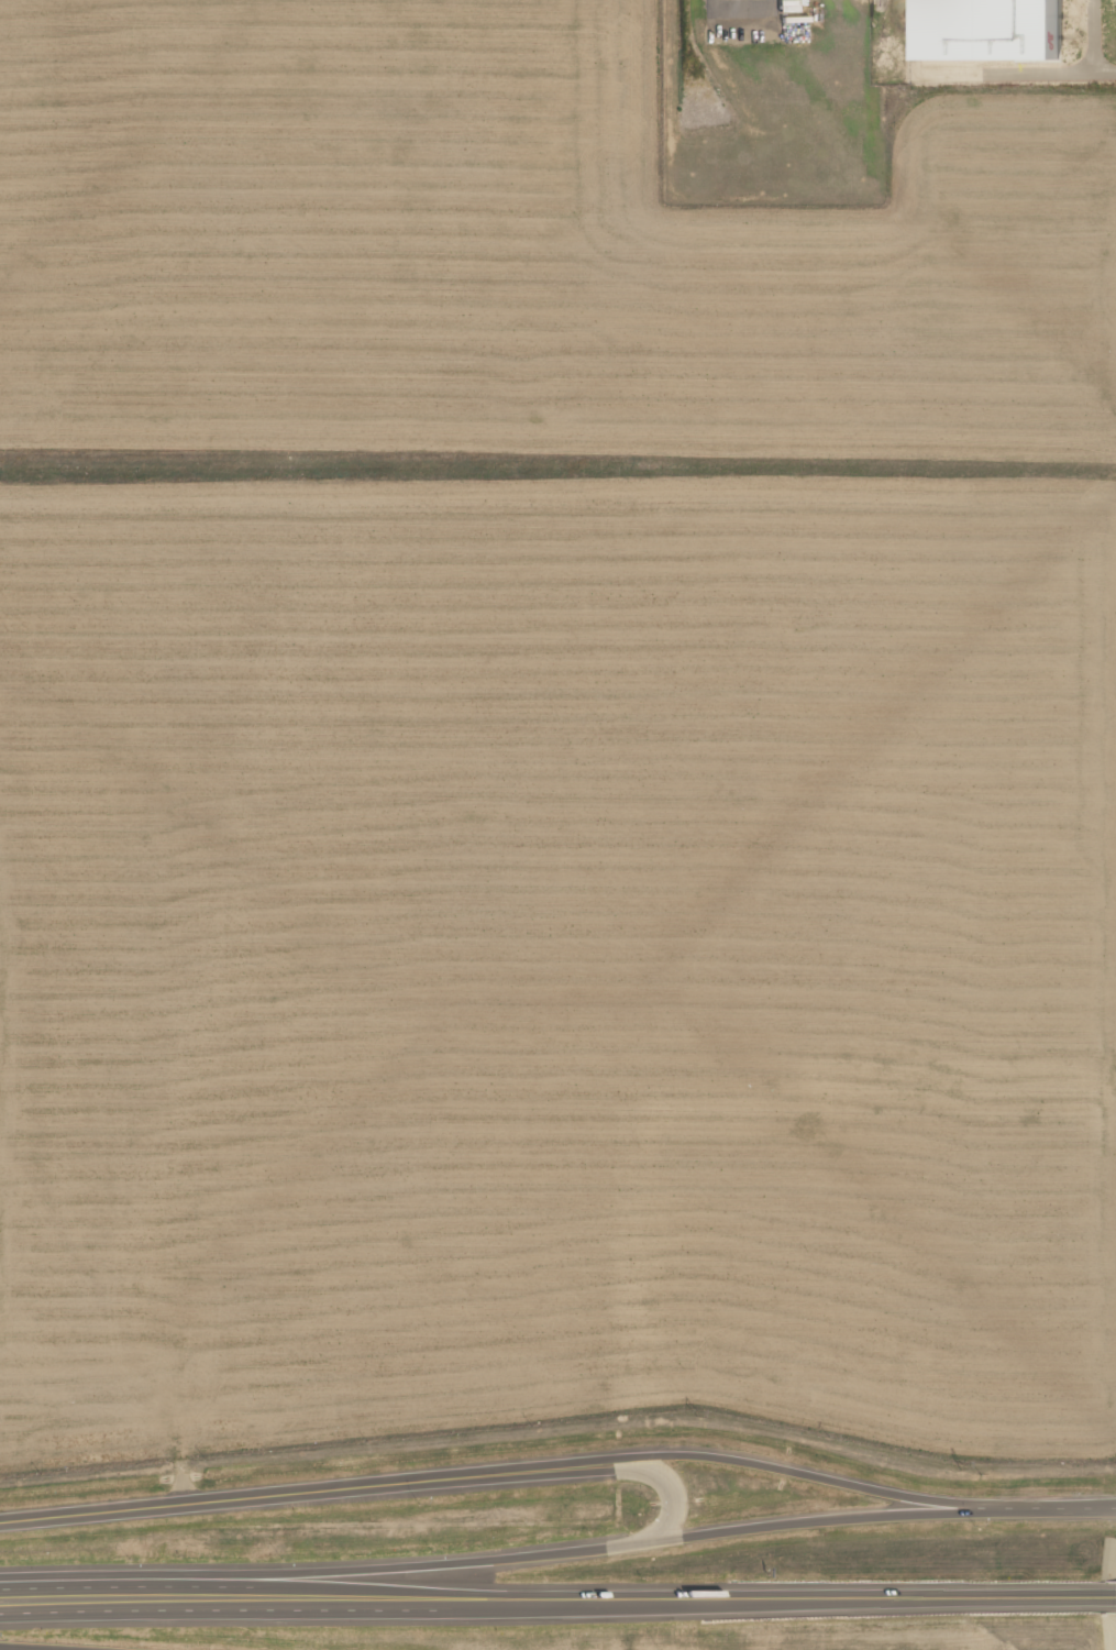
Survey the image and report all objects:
railway: (879, 2)
building: (991, 30)
road: (1079, 71)
road: (796, 1472)
road: (674, 1485)
road: (306, 1491)
road: (1047, 1509)
road: (583, 1553)
road: (92, 1584)
road: (321, 1587)
road: (1109, 1593)
road: (781, 1597)
road: (331, 1613)
road: (101, 1614)
road: (41, 1647)

